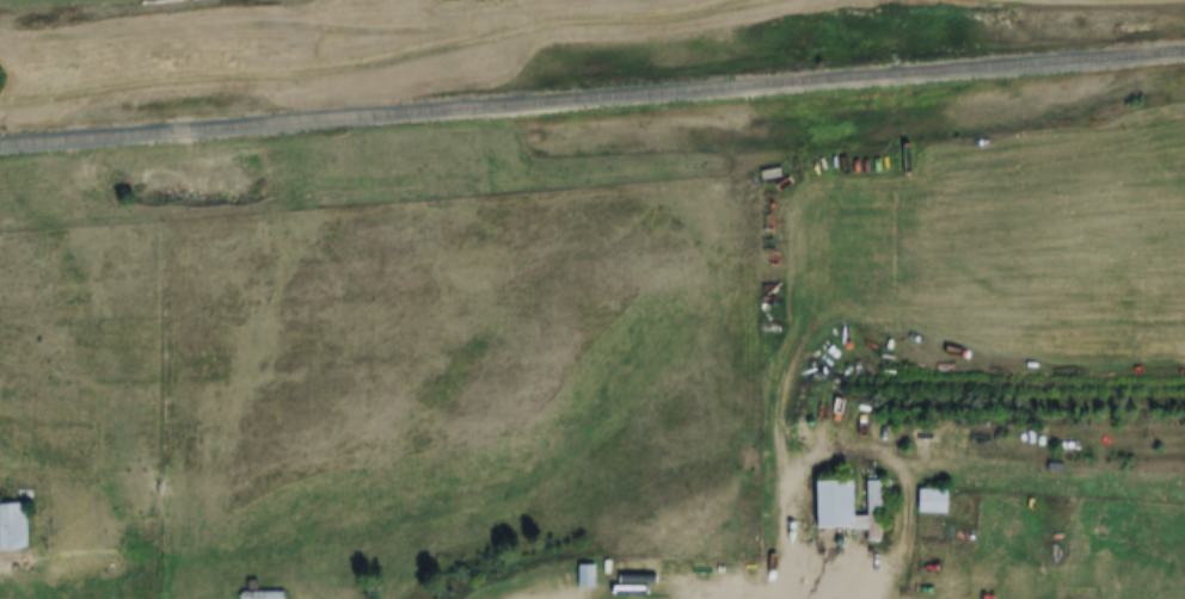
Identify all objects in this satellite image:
road: (1181, 0)
railway: (592, 97)
building: (927, 502)
building: (847, 507)
building: (11, 527)
road: (799, 535)
building: (582, 576)
building: (259, 595)

